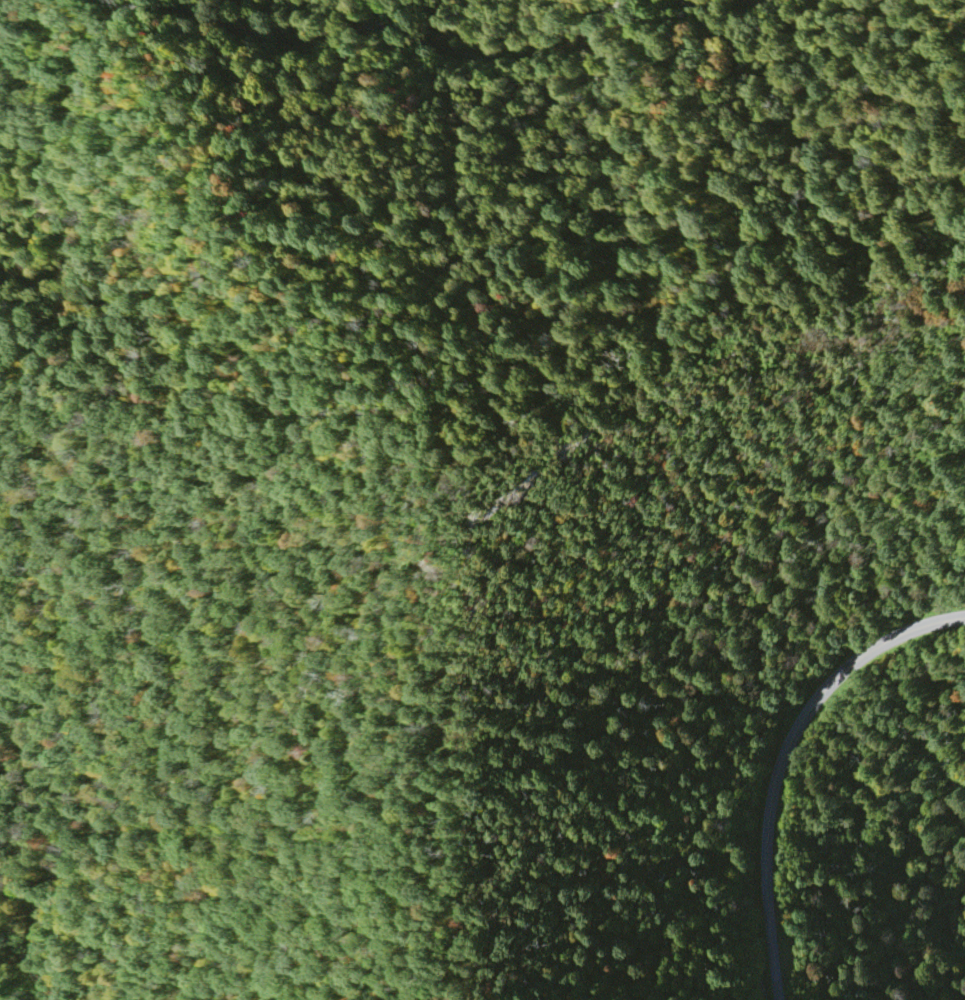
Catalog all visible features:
road: (783, 760)

